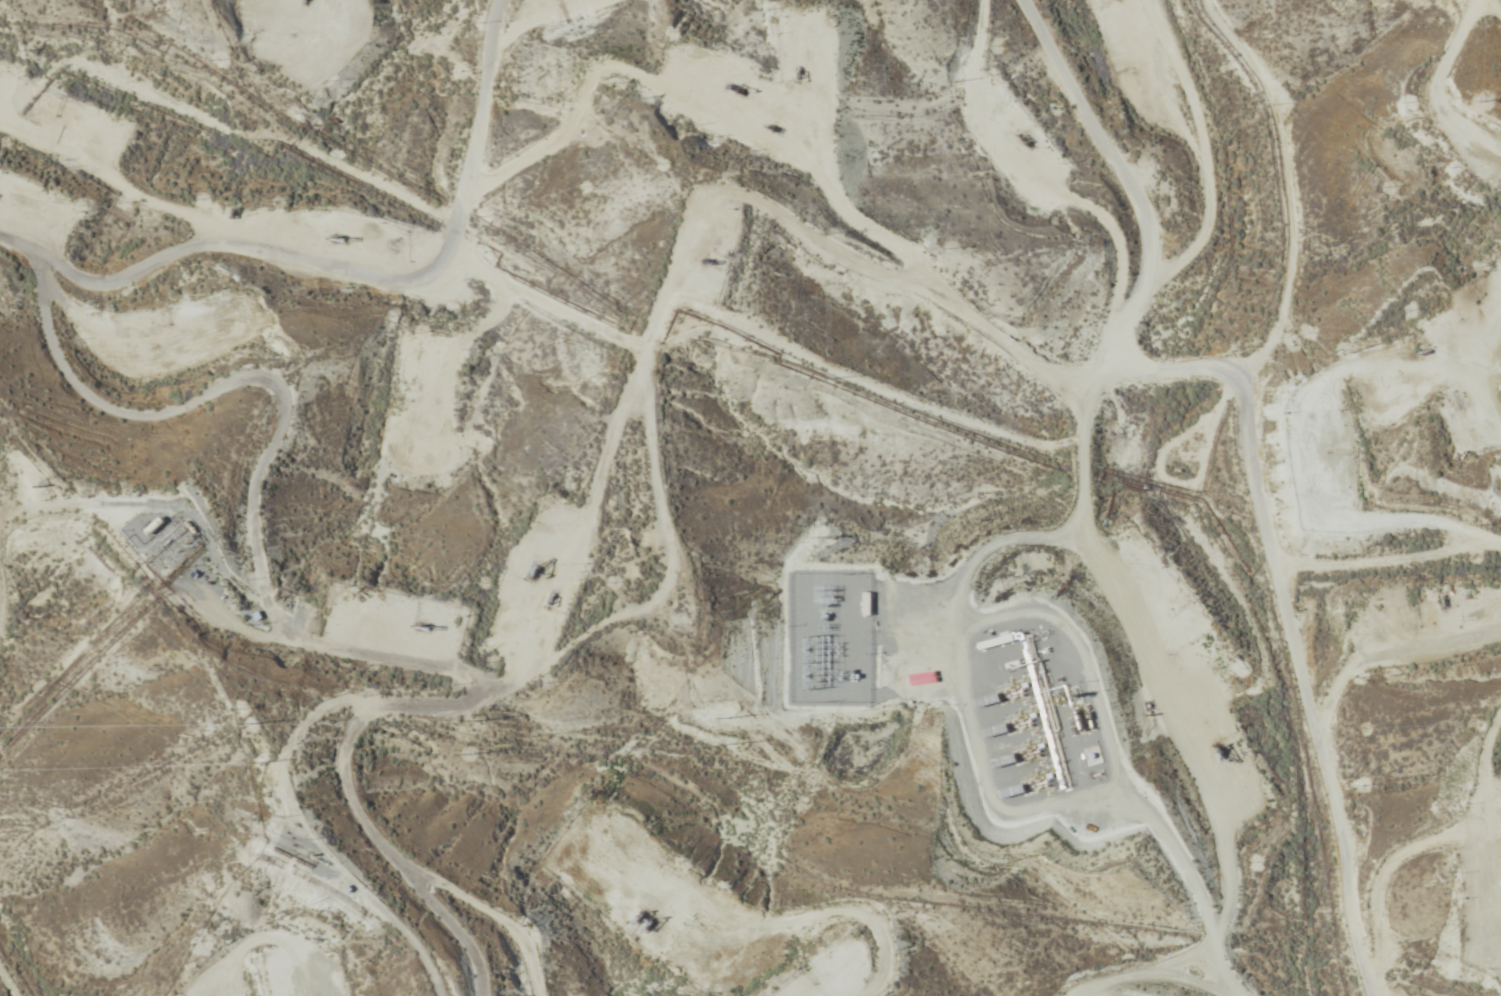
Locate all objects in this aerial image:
road: (355, 254)
road: (699, 272)
road: (1398, 340)
road: (1169, 531)
road: (1334, 676)
road: (74, 851)
road: (343, 879)

